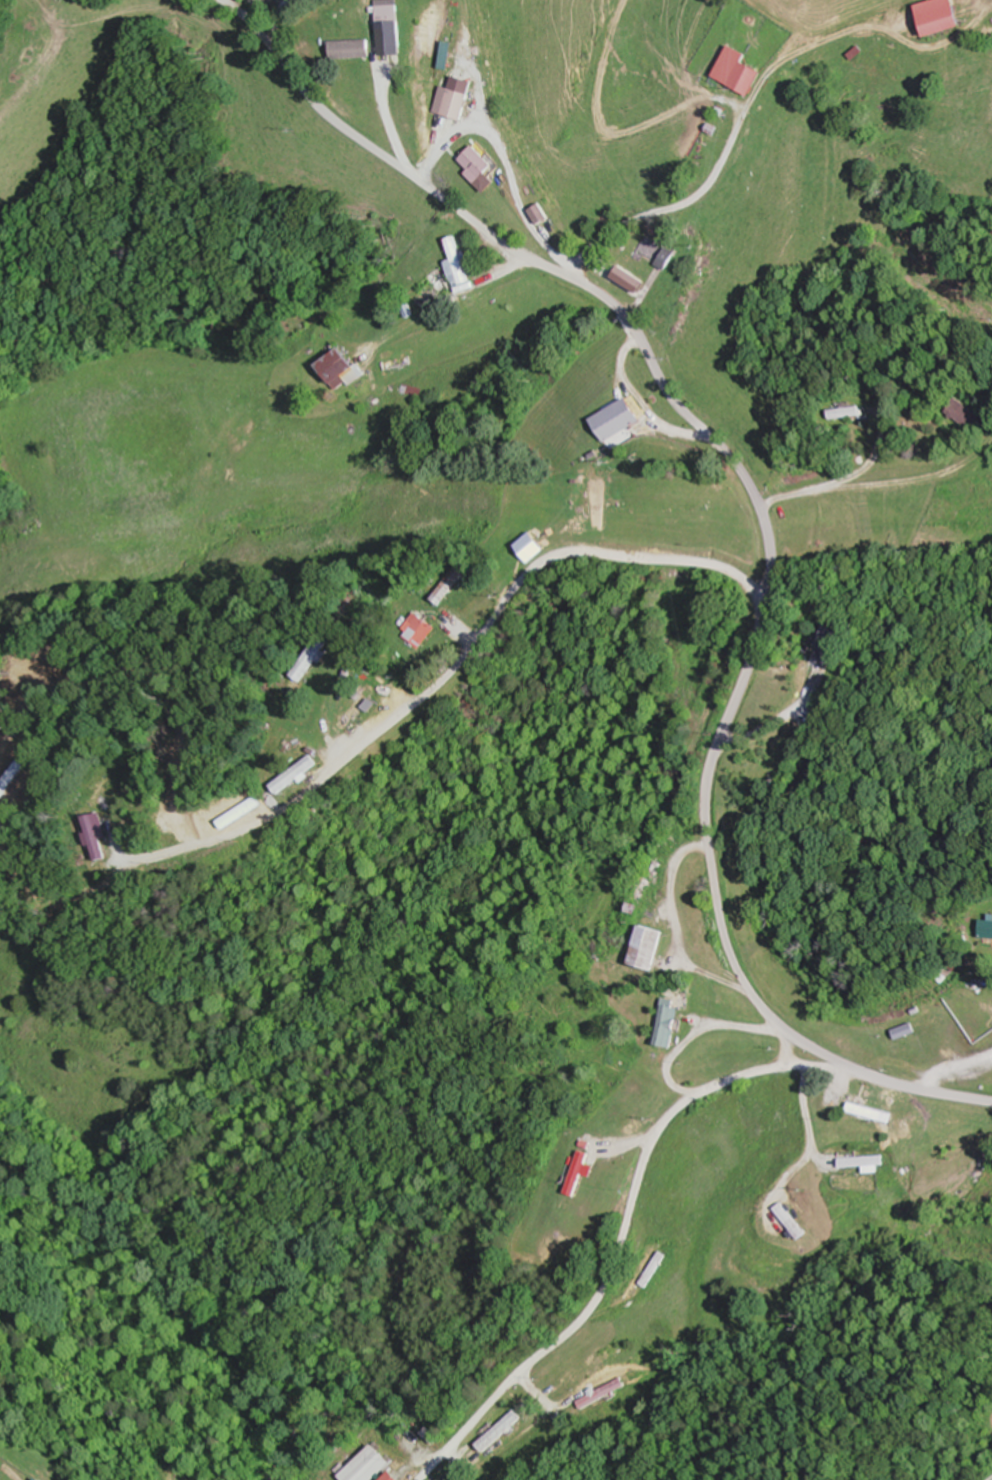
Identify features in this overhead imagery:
building: (943, 16)
road: (277, 26)
building: (392, 39)
building: (354, 48)
building: (447, 54)
building: (745, 75)
building: (456, 103)
building: (477, 163)
building: (658, 252)
building: (436, 287)
building: (345, 369)
building: (848, 413)
building: (972, 416)
building: (620, 419)
road: (763, 516)
building: (454, 582)
building: (420, 630)
building: (828, 637)
building: (314, 660)
road: (445, 679)
building: (356, 711)
building: (296, 774)
building: (100, 837)
building: (653, 879)
building: (989, 927)
building: (651, 948)
building: (665, 1023)
building: (913, 1028)
road: (952, 1066)
building: (837, 1097)
building: (953, 1128)
building: (865, 1163)
building: (579, 1173)
road: (625, 1231)
building: (602, 1394)
building: (500, 1433)
building: (370, 1464)
building: (42, 1479)

